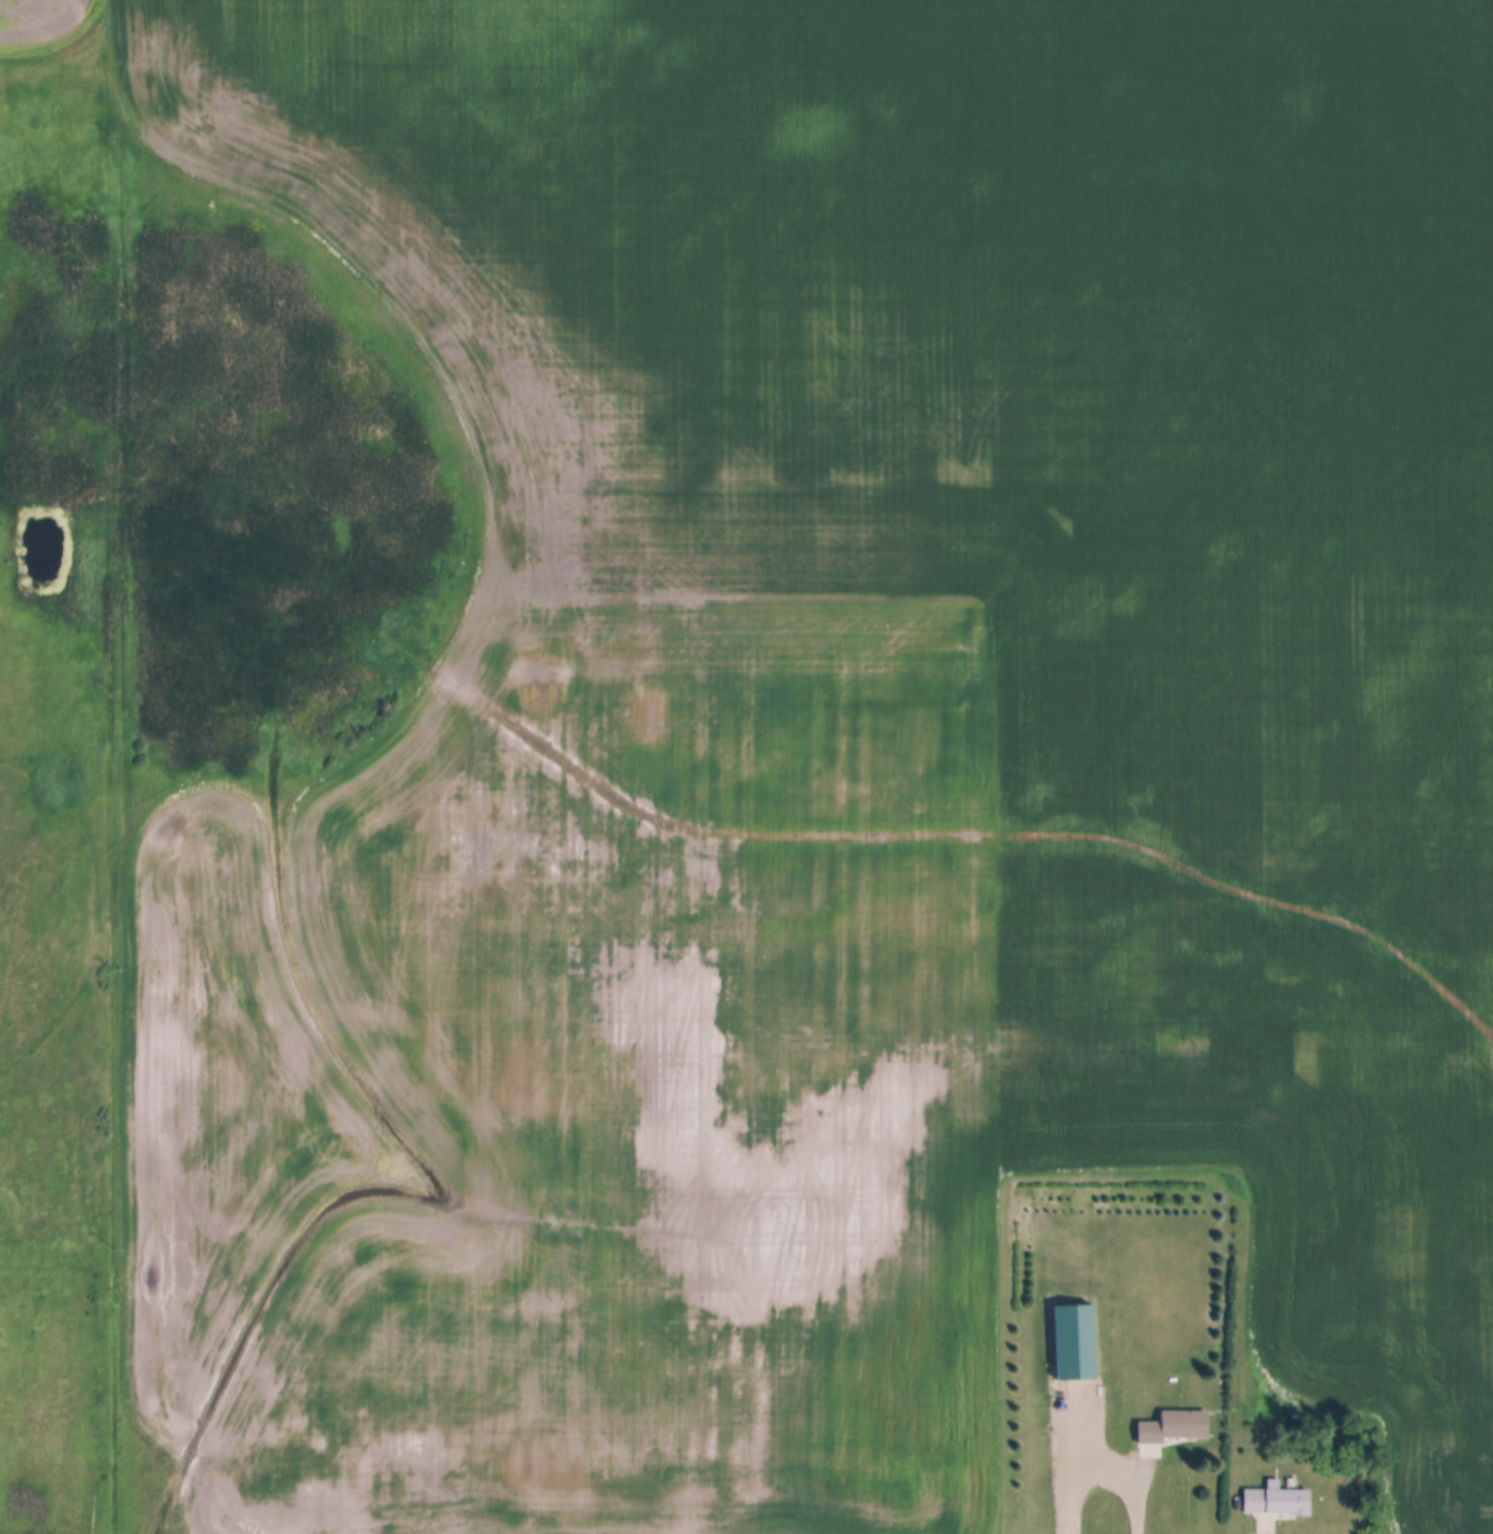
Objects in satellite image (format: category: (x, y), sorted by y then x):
building: (1076, 1342)
building: (1176, 1426)
road: (1141, 1490)
building: (1277, 1502)

